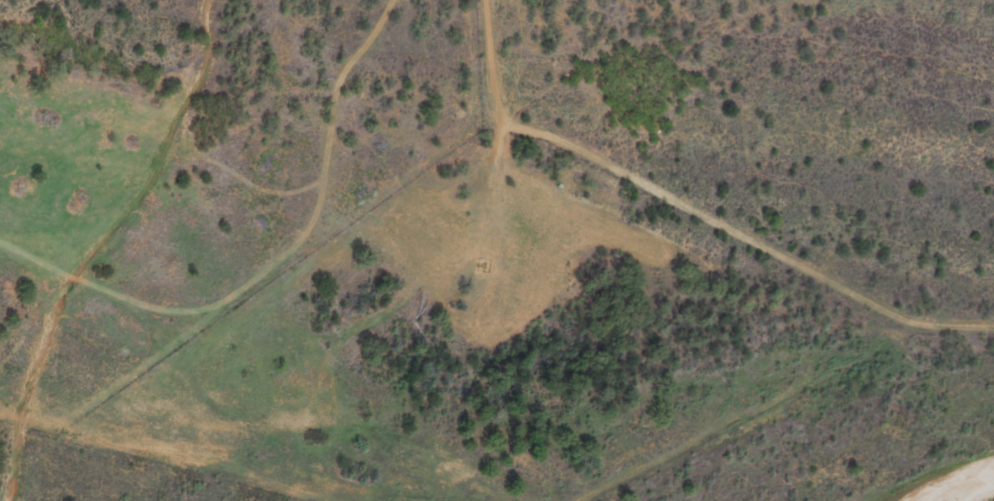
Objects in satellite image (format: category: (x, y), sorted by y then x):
river: (992, 499)

